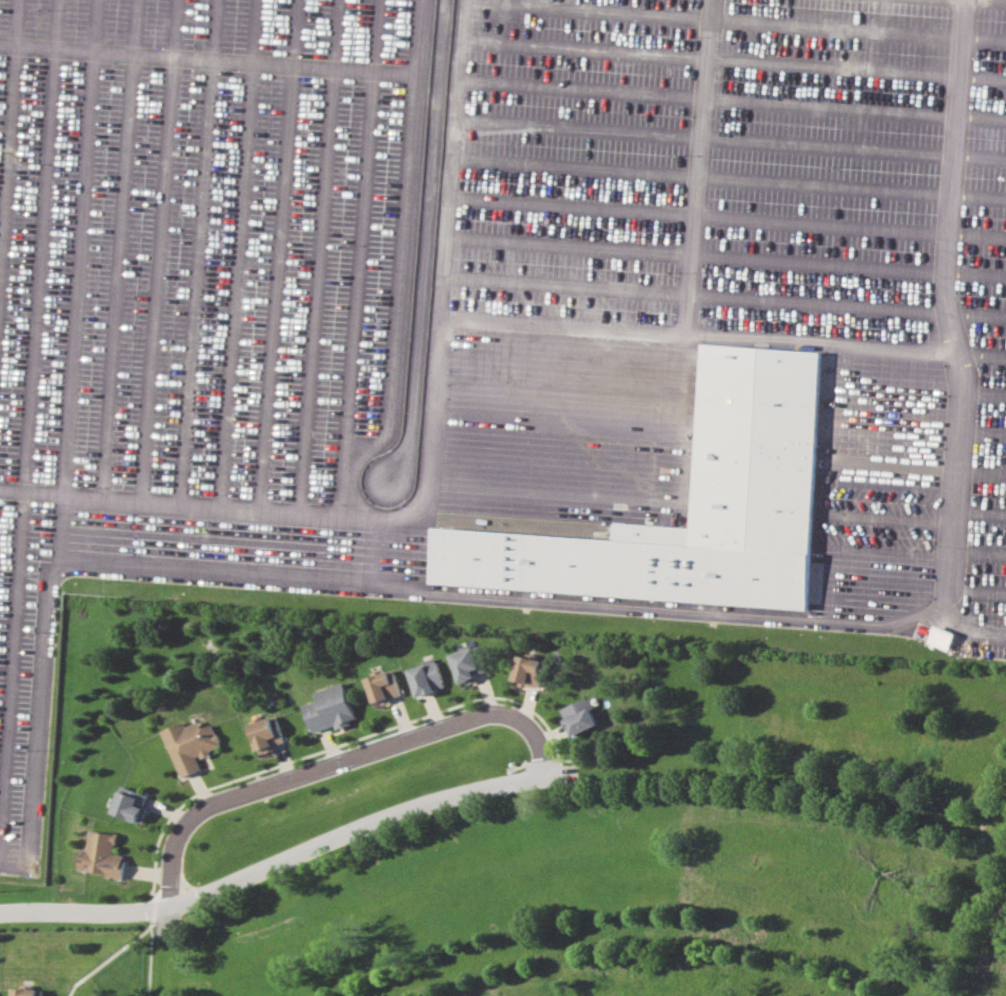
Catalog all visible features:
road: (208, 60)
road: (702, 99)
road: (445, 156)
road: (401, 268)
road: (688, 274)
parking lot: (500, 320)
road: (951, 339)
road: (817, 340)
building: (754, 432)
road: (282, 511)
building: (939, 637)
building: (468, 660)
building: (527, 667)
building: (423, 673)
building: (381, 681)
building: (327, 707)
building: (579, 713)
building: (264, 731)
building: (187, 738)
road: (393, 742)
road: (491, 786)
building: (128, 798)
road: (172, 850)
building: (100, 851)
road: (970, 902)
road: (652, 931)
road: (169, 952)
building: (27, 991)

